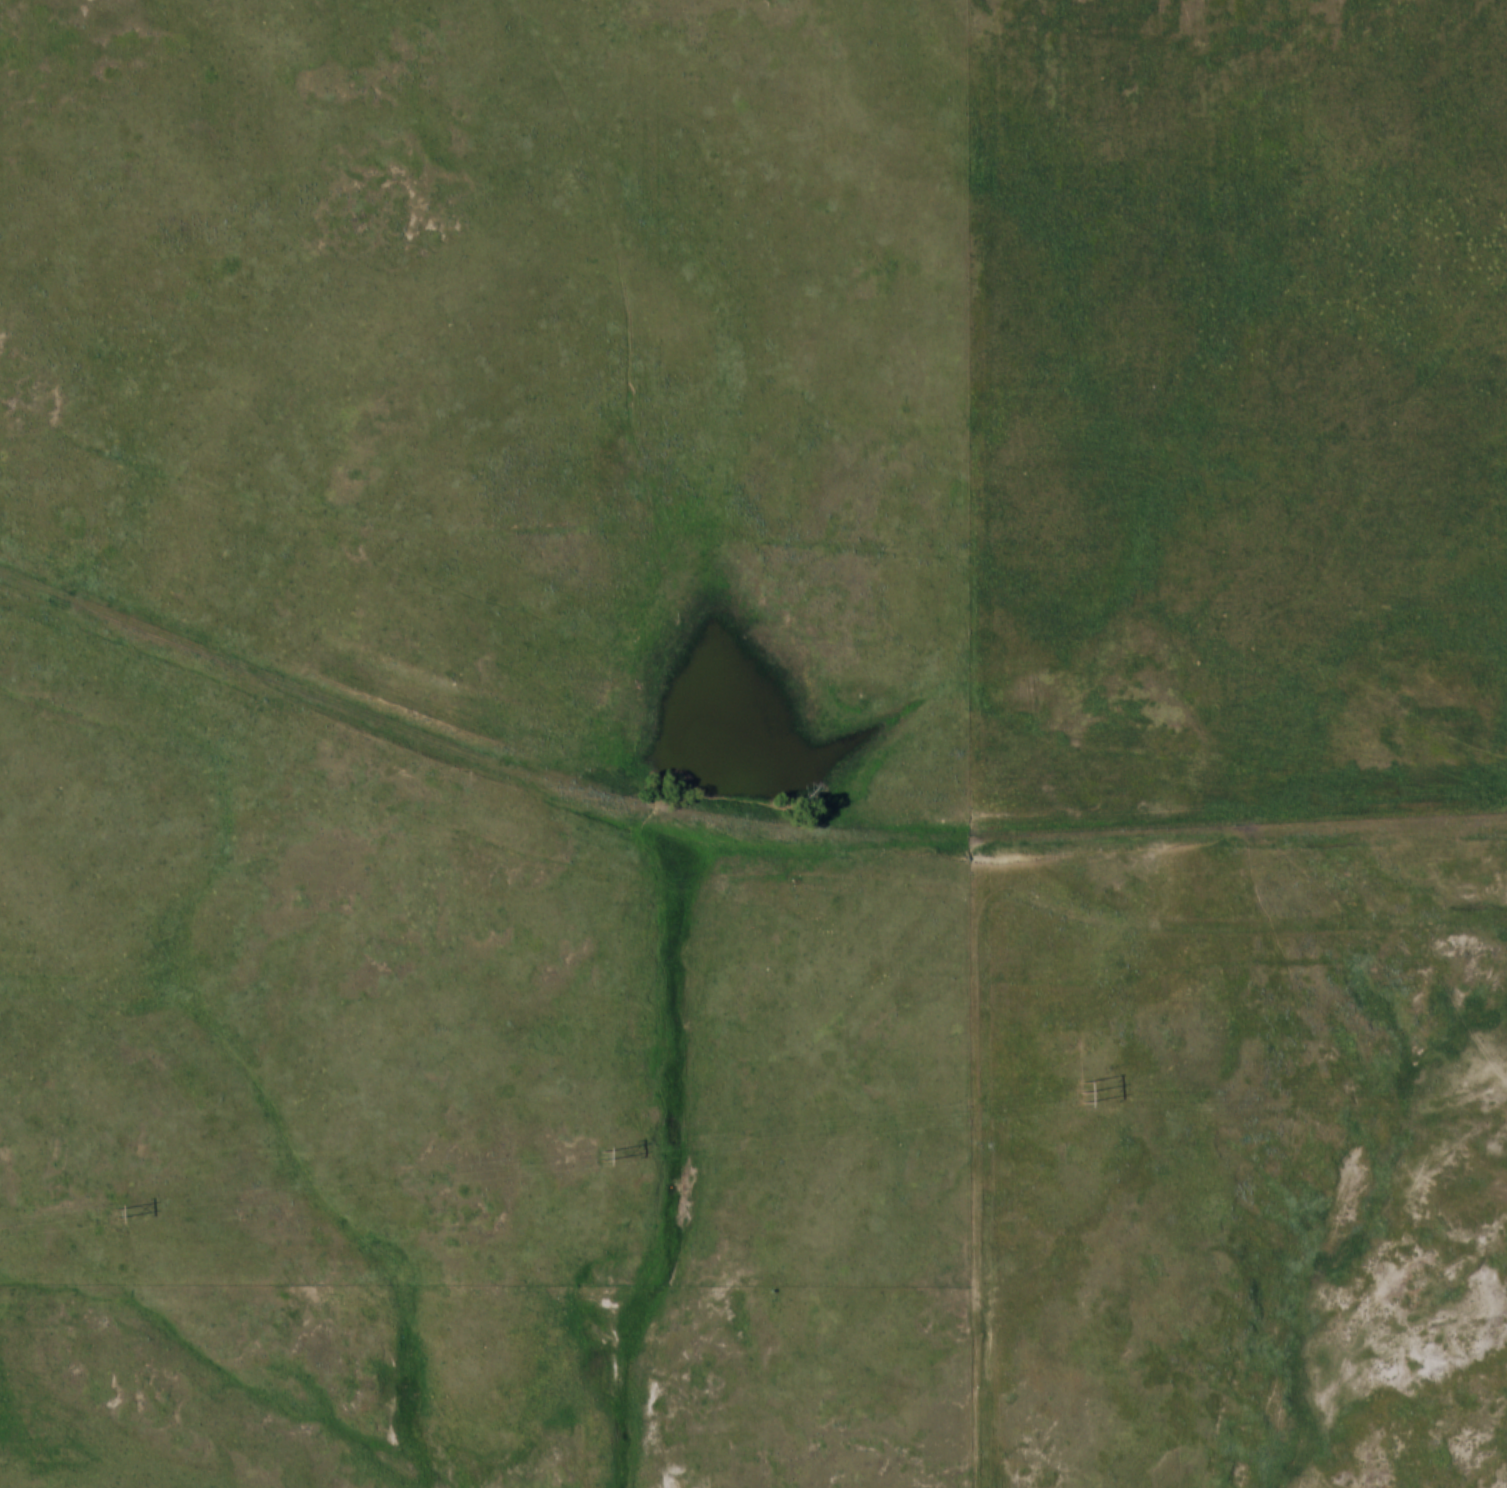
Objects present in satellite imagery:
power tower: (1084, 1094)
power tower: (602, 1156)
power tower: (113, 1214)

